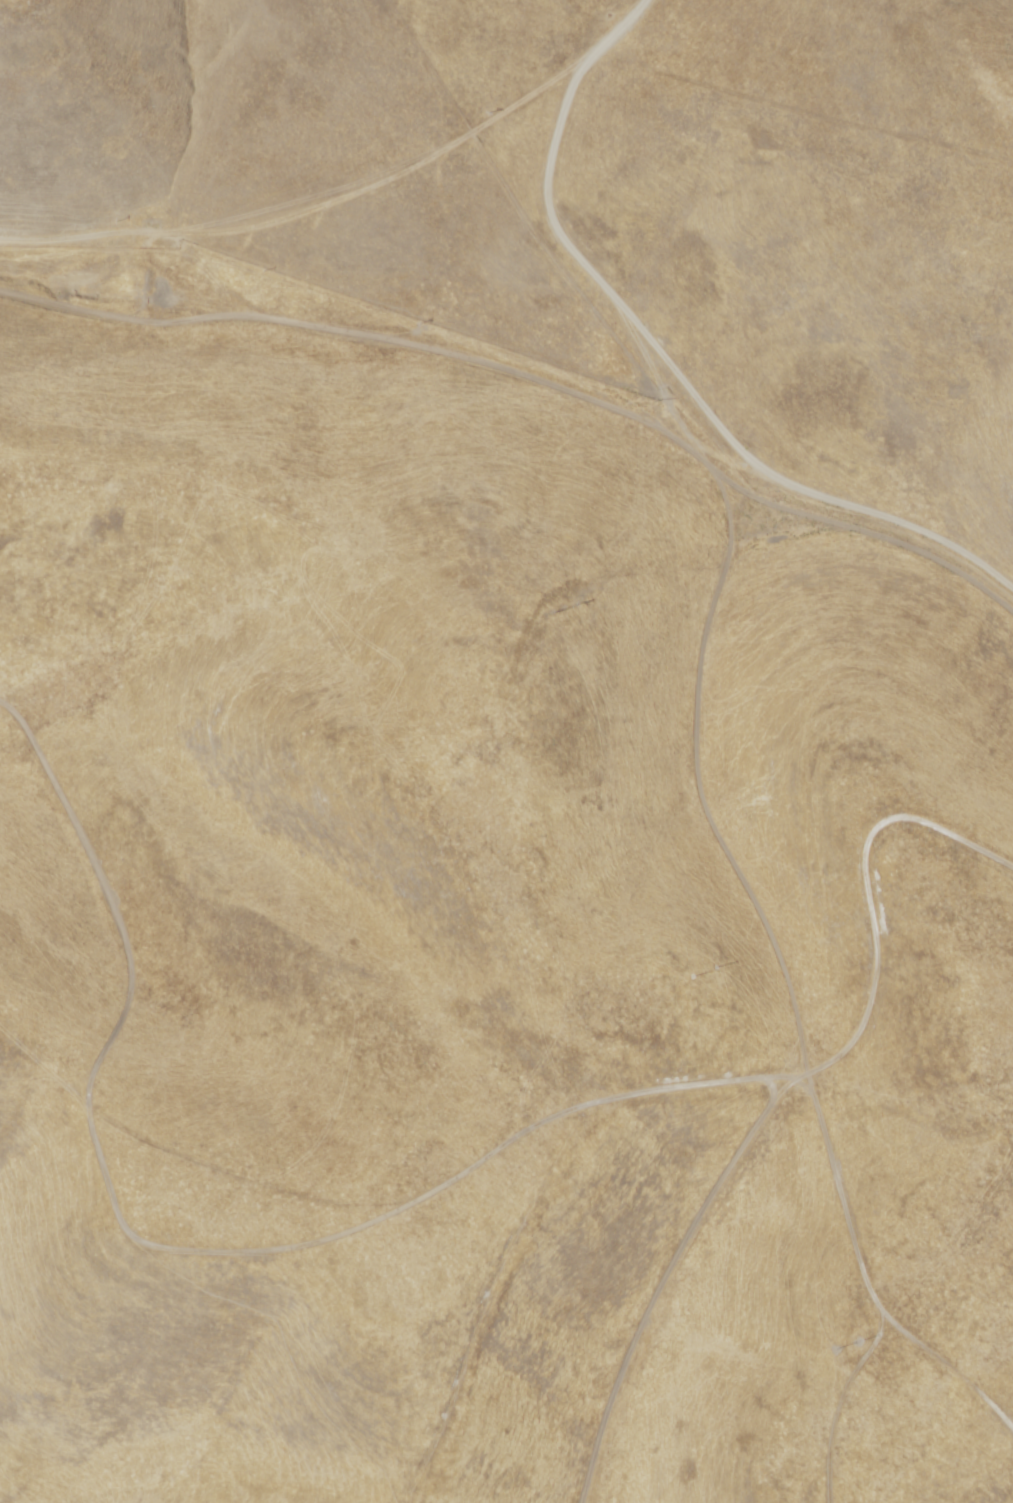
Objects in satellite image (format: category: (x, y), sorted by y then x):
road: (311, 188)
road: (310, 359)
road: (650, 430)
road: (771, 1028)

